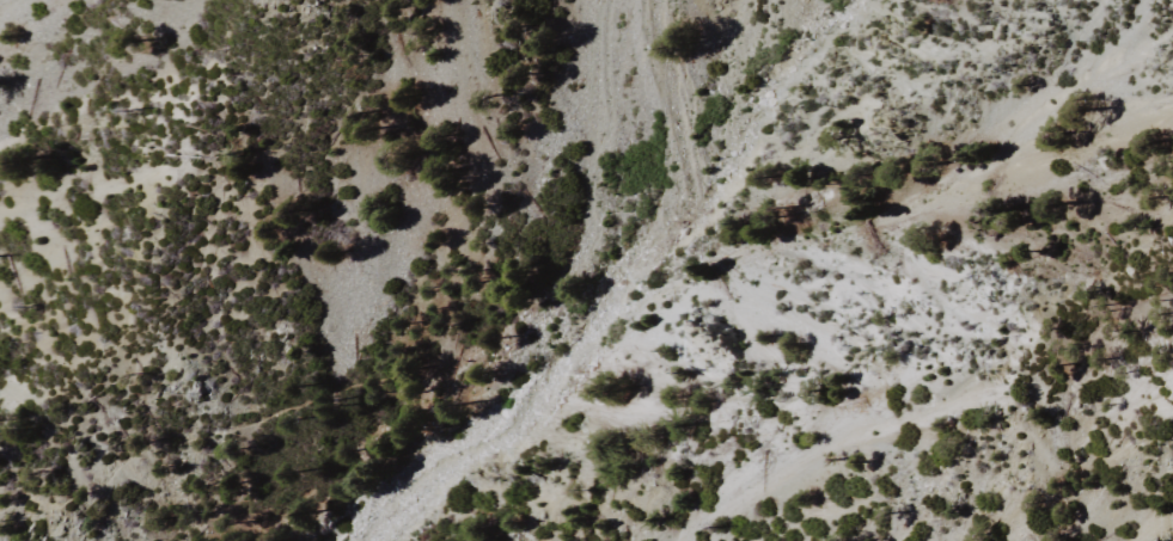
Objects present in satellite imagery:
road: (289, 408)

